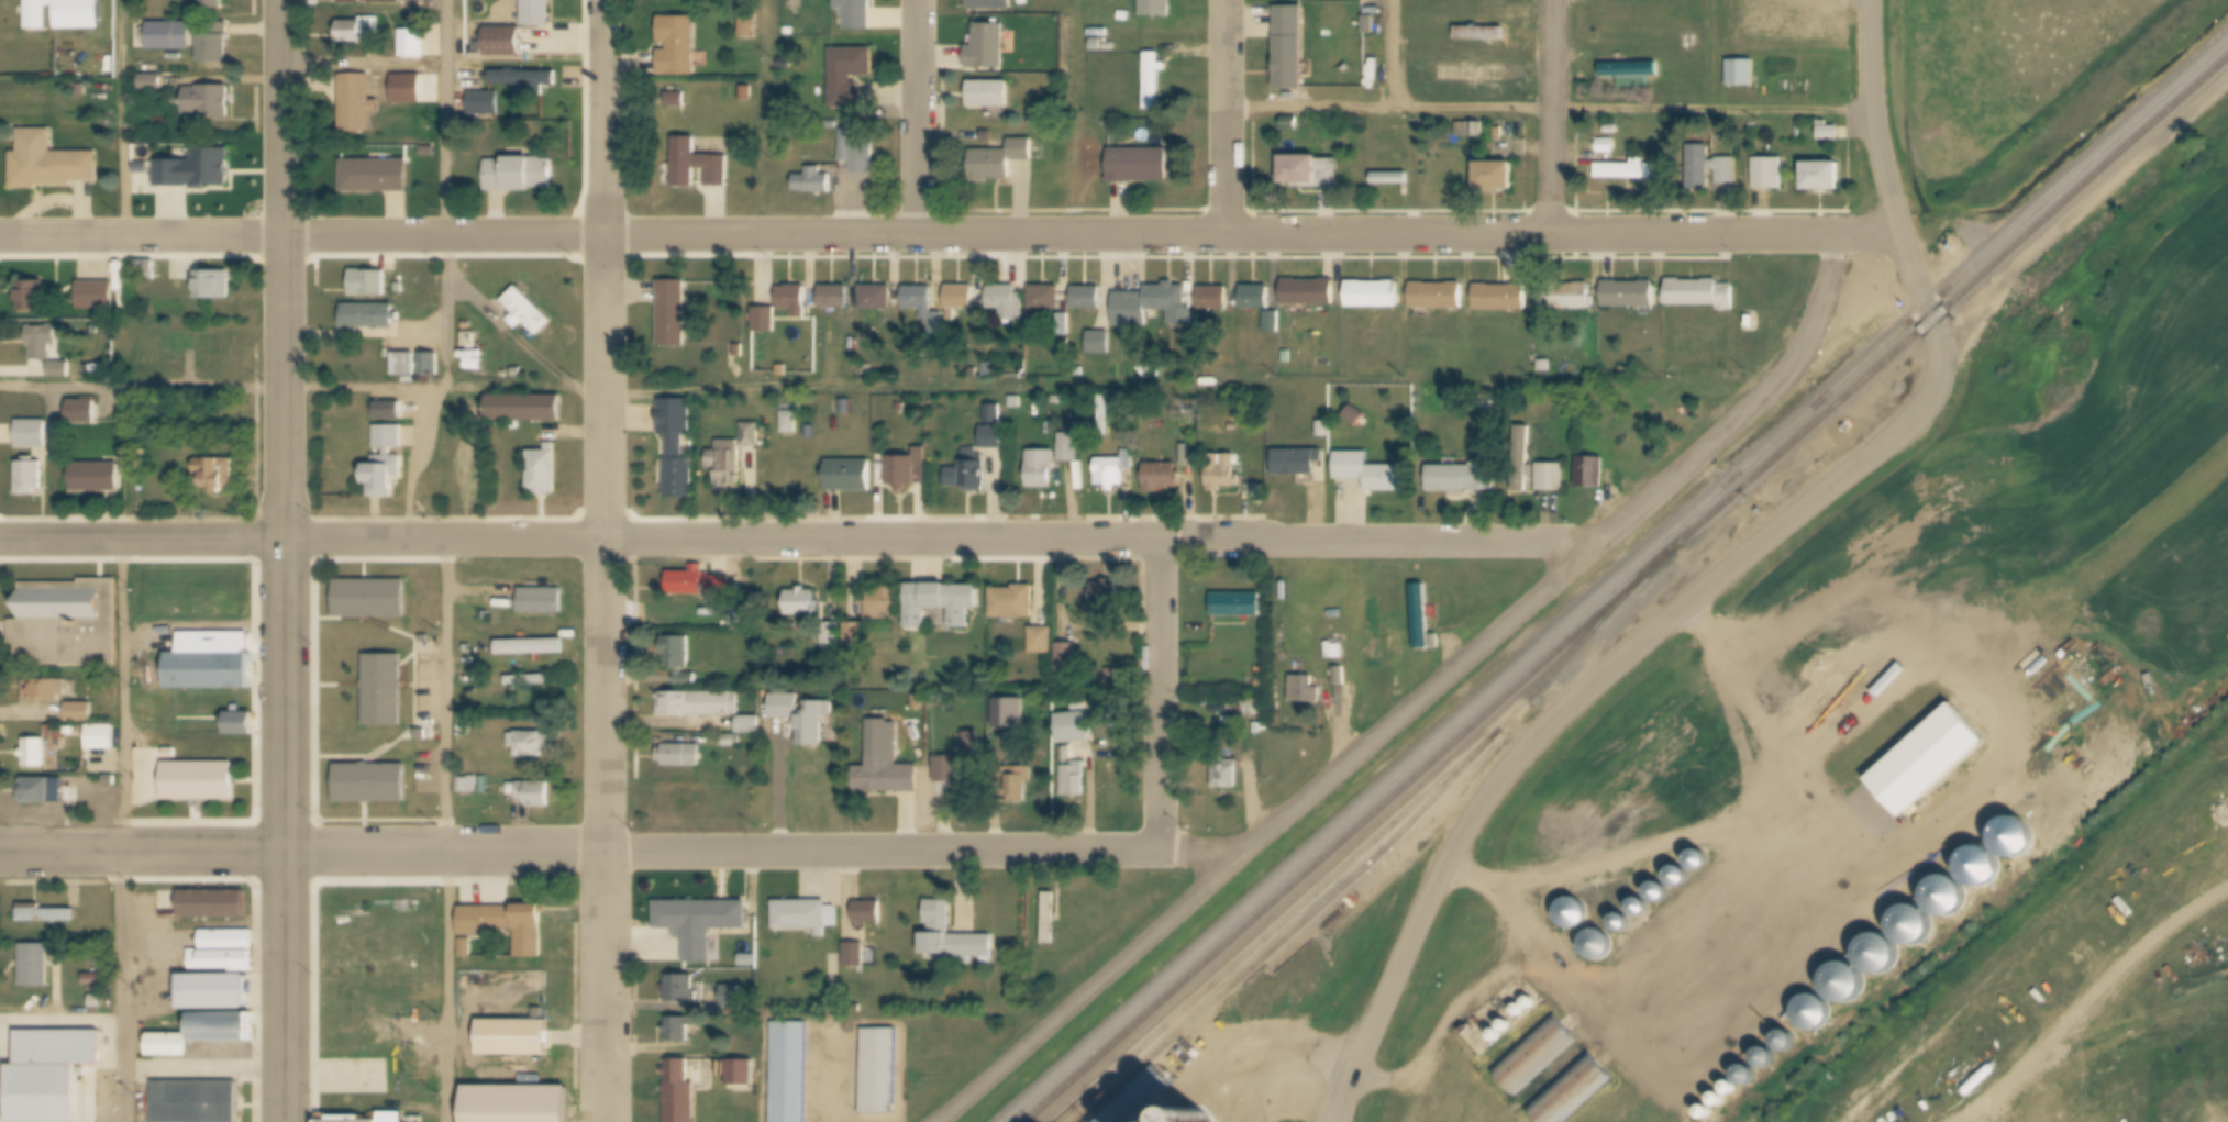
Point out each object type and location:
building: (353, 3)
building: (387, 3)
building: (991, 4)
building: (214, 5)
building: (1157, 10)
road: (1076, 11)
building: (539, 14)
building: (857, 14)
building: (66, 15)
building: (1127, 15)
building: (1371, 24)
building: (750, 29)
building: (791, 31)
building: (361, 33)
building: (1482, 35)
building: (165, 37)
building: (505, 43)
building: (414, 45)
building: (1111, 45)
building: (217, 46)
building: (679, 47)
building: (989, 48)
road: (1185, 48)
building: (1292, 51)
road: (1396, 54)
building: (1473, 73)
building: (1632, 74)
building: (1743, 74)
building: (851, 75)
building: (1154, 81)
building: (528, 82)
building: (153, 84)
building: (407, 91)
building: (749, 95)
building: (990, 97)
building: (677, 100)
building: (485, 103)
building: (209, 104)
building: (357, 105)
road: (1555, 109)
road: (1883, 114)
road: (126, 118)
road: (920, 118)
road: (1230, 118)
road: (1552, 118)
building: (1293, 122)
building: (1614, 130)
building: (1472, 131)
building: (1829, 132)
building: (1396, 133)
building: (988, 136)
building: (1498, 137)
building: (1608, 145)
building: (861, 151)
building: (430, 152)
building: (1396, 156)
building: (51, 163)
building: (1000, 163)
building: (698, 165)
building: (1140, 166)
building: (1727, 169)
building: (198, 171)
building: (1628, 171)
building: (521, 175)
building: (1312, 175)
building: (1770, 175)
building: (377, 178)
building: (1824, 178)
building: (1392, 179)
building: (1496, 180)
building: (814, 184)
road: (451, 197)
road: (141, 236)
road: (1091, 236)
building: (1954, 248)
building: (370, 285)
building: (215, 288)
building: (402, 289)
building: (1309, 293)
building: (99, 295)
building: (1702, 295)
building: (1630, 296)
building: (1256, 297)
building: (1374, 297)
building: (1439, 298)
building: (1577, 298)
building: (34, 299)
building: (835, 299)
building: (877, 299)
building: (920, 299)
building: (962, 299)
building: (1046, 299)
building: (1088, 299)
building: (1503, 299)
building: (794, 300)
building: (1215, 300)
building: (1009, 304)
building: (1154, 307)
building: (529, 314)
building: (674, 316)
building: (369, 318)
building: (765, 320)
building: (1275, 322)
building: (1753, 323)
building: (1065, 326)
building: (43, 341)
building: (474, 344)
building: (1100, 344)
building: (740, 352)
building: (1288, 357)
building: (476, 360)
building: (406, 364)
building: (431, 365)
building: (1547, 367)
building: (990, 368)
building: (62, 371)
building: (784, 371)
building: (520, 374)
road: (303, 392)
building: (1018, 402)
building: (1101, 409)
building: (526, 410)
building: (390, 411)
building: (84, 414)
building: (1356, 415)
building: (791, 424)
building: (995, 427)
building: (1324, 427)
building: (1851, 429)
building: (33, 435)
building: (752, 436)
building: (1071, 448)
building: (678, 449)
building: (1190, 455)
building: (728, 458)
building: (1523, 460)
building: (1298, 463)
building: (387, 464)
building: (1517, 465)
building: (908, 468)
building: (1042, 469)
building: (477, 470)
building: (1115, 471)
building: (969, 473)
building: (545, 474)
building: (1371, 474)
building: (1592, 474)
building: (218, 475)
building: (851, 475)
building: (1224, 475)
building: (31, 478)
building: (98, 478)
building: (1552, 479)
building: (1163, 480)
building: (1461, 480)
building: (1764, 512)
road: (939, 541)
road: (142, 542)
road: (285, 560)
road: (608, 560)
railway: (1617, 581)
building: (701, 586)
railway: (1625, 589)
building: (1108, 592)
building: (372, 600)
building: (543, 602)
building: (803, 603)
building: (884, 604)
building: (1015, 604)
building: (1239, 606)
building: (942, 607)
building: (1425, 620)
building: (68, 625)
building: (1372, 625)
building: (831, 636)
building: (857, 636)
building: (428, 638)
railway: (1582, 638)
building: (1043, 642)
building: (469, 648)
building: (533, 648)
road: (1636, 649)
building: (1335, 651)
building: (1068, 657)
building: (680, 662)
building: (1263, 671)
building: (210, 674)
building: (1340, 677)
building: (530, 681)
building: (1263, 681)
building: (45, 690)
building: (386, 691)
building: (1306, 692)
road: (1160, 697)
road: (1417, 700)
building: (700, 704)
building: (1221, 704)
building: (80, 712)
building: (1011, 714)
building: (805, 718)
building: (241, 725)
building: (751, 725)
building: (1077, 729)
building: (71, 731)
building: (424, 733)
building: (103, 738)
building: (734, 740)
building: (974, 743)
building: (532, 745)
building: (171, 753)
building: (36, 754)
building: (681, 755)
building: (1929, 767)
building: (947, 770)
building: (1228, 775)
building: (886, 777)
building: (200, 781)
building: (1075, 782)
building: (373, 784)
building: (466, 785)
building: (1019, 790)
building: (41, 793)
building: (537, 795)
road: (122, 831)
road: (445, 831)
building: (2020, 845)
silo: (2020, 845)
road: (764, 851)
road: (143, 852)
building: (1704, 866)
silo: (1704, 866)
building: (1985, 874)
silo: (1985, 874)
building: (1684, 881)
silo: (1684, 881)
building: (1663, 898)
silo: (1663, 898)
building: (1951, 902)
silo: (1951, 902)
building: (214, 904)
building: (1644, 913)
silo: (1644, 913)
building: (869, 914)
building: (46, 915)
building: (807, 918)
building: (1050, 920)
building: (1578, 921)
silo: (1578, 921)
building: (701, 925)
railway: (1274, 925)
building: (505, 927)
building: (1626, 930)
silo: (1626, 930)
railway: (1289, 931)
building: (1917, 931)
silo: (1917, 931)
building: (953, 940)
building: (228, 941)
building: (1603, 953)
silo: (1603, 953)
building: (856, 955)
building: (750, 960)
building: (1883, 960)
silo: (1883, 960)
building: (223, 962)
building: (36, 968)
building: (95, 980)
building: (1850, 989)
silo: (1850, 989)
building: (683, 990)
building: (735, 997)
building: (217, 998)
building: (98, 1002)
storage tank: (1530, 1008)
storage tank: (1521, 1015)
building: (1819, 1021)
silo: (1819, 1021)
building: (678, 1030)
building: (222, 1032)
storage tank: (1508, 1033)
building: (516, 1042)
storage tank: (1500, 1042)
building: (1793, 1047)
silo: (1793, 1047)
building: (170, 1048)
building: (60, 1051)
road: (1427, 1064)
building: (1542, 1064)
building: (1772, 1064)
silo: (1772, 1064)
building: (791, 1071)
building: (880, 1071)
building: (744, 1076)
building: (1753, 1082)
silo: (1753, 1082)
building: (680, 1092)
building: (44, 1096)
building: (1734, 1096)
silo: (1734, 1096)
building: (1579, 1097)
building: (1140, 1100)
building: (514, 1101)
building: (197, 1102)
building: (1722, 1107)
silo: (1722, 1107)
building: (392, 1118)
building: (1709, 1118)
silo: (1709, 1118)
building: (348, 1119)
building: (1204, 1120)
silo: (1204, 1120)

